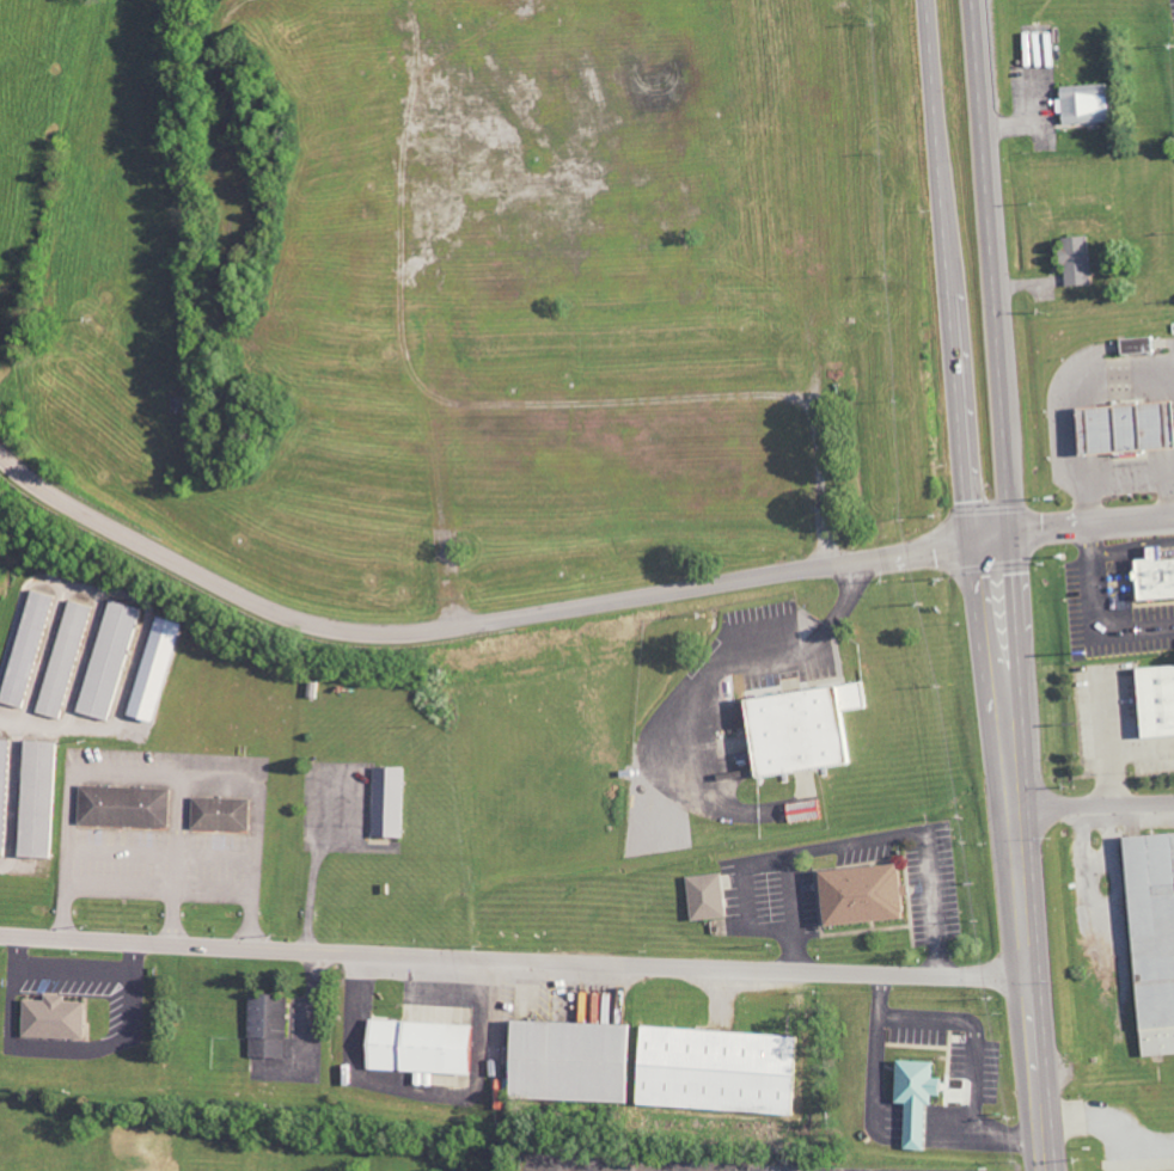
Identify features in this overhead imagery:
building: (1080, 104)
building: (1071, 259)
road: (998, 326)
road: (952, 329)
building: (1132, 345)
building: (1120, 427)
road: (1071, 531)
road: (1132, 546)
building: (1151, 576)
road: (1096, 614)
road: (464, 620)
building: (31, 649)
building: (68, 660)
building: (112, 660)
building: (158, 669)
road: (701, 689)
road: (1007, 693)
building: (1152, 700)
building: (796, 729)
road: (128, 771)
building: (6, 793)
building: (42, 799)
building: (386, 802)
building: (128, 807)
road: (1095, 807)
building: (226, 814)
road: (204, 853)
building: (702, 896)
building: (1150, 938)
road: (1029, 951)
road: (515, 961)
building: (59, 1018)
building: (269, 1028)
building: (417, 1048)
building: (716, 1068)
building: (912, 1099)
building: (1168, 1170)

